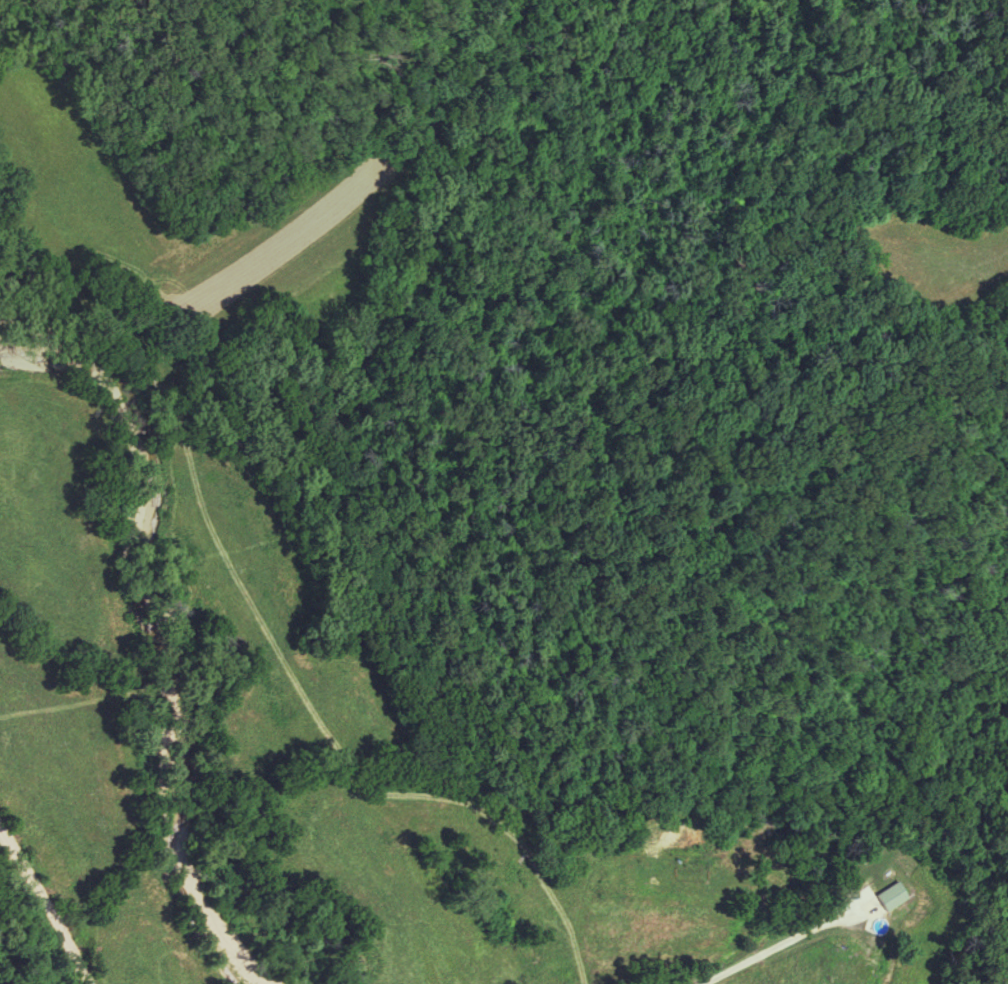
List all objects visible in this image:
building: (889, 894)
road: (45, 908)
road: (764, 948)

